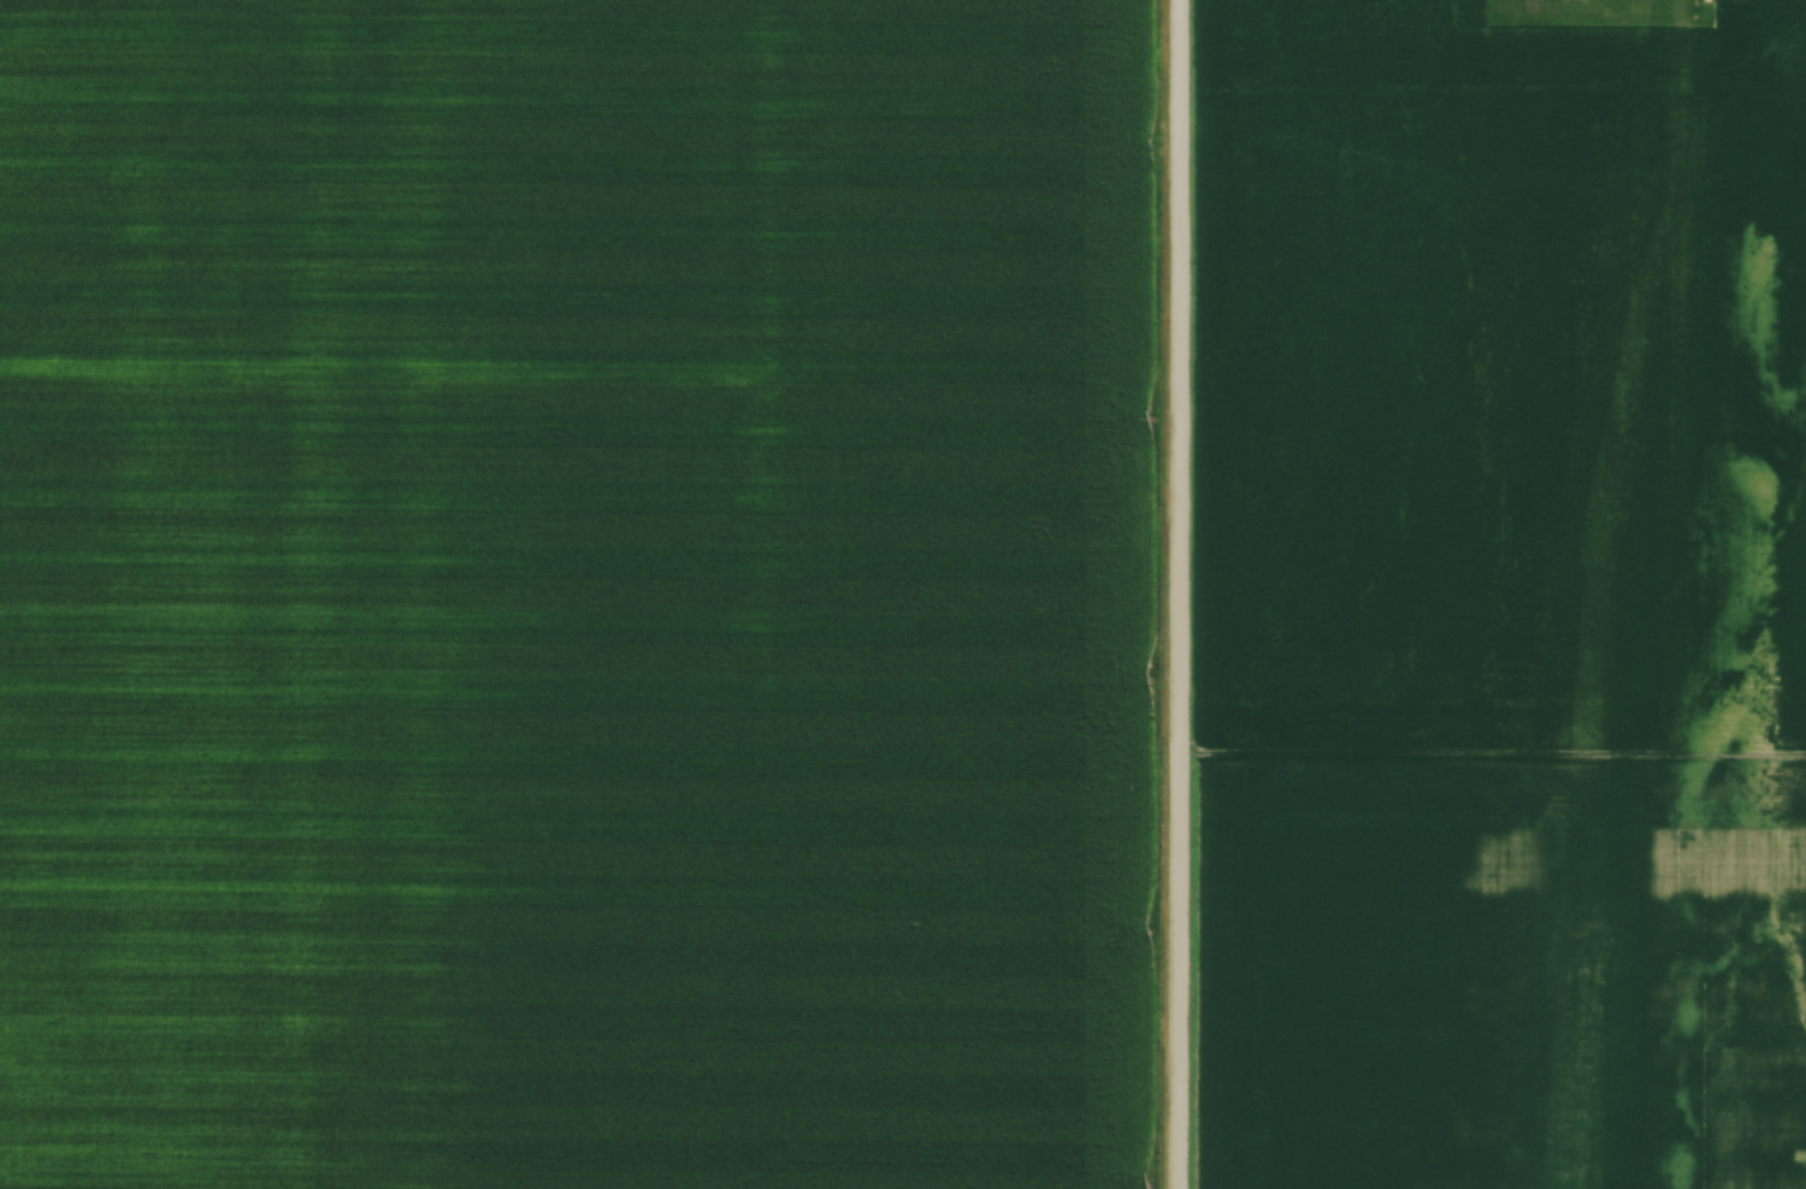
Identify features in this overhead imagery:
road: (1175, 594)

